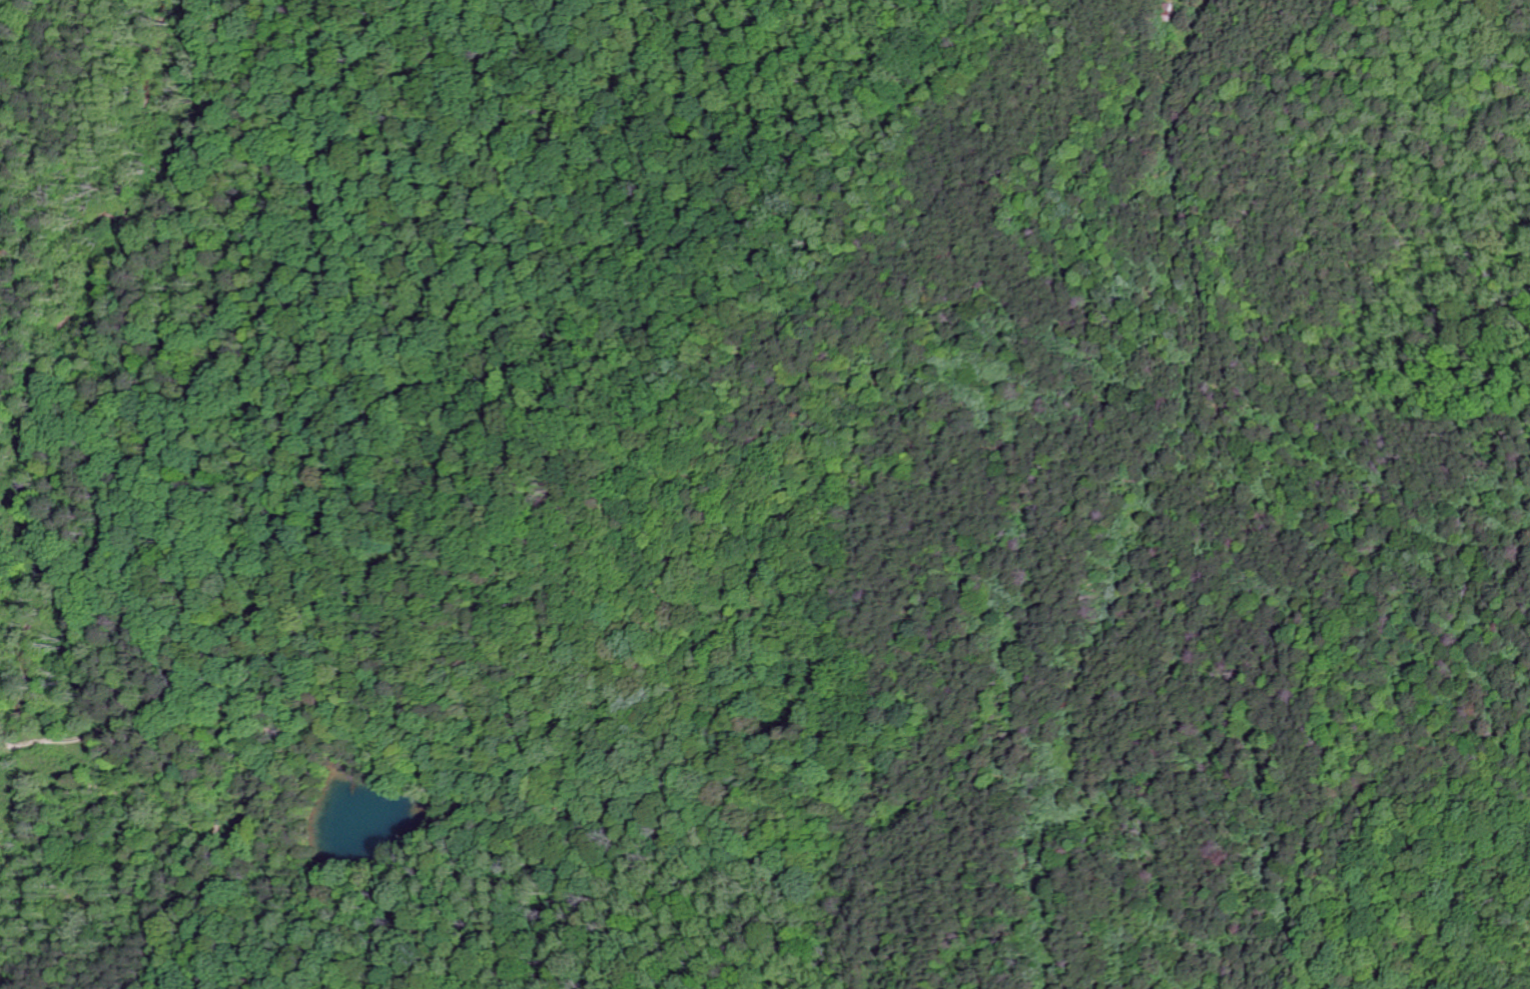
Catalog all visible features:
road: (270, 490)

